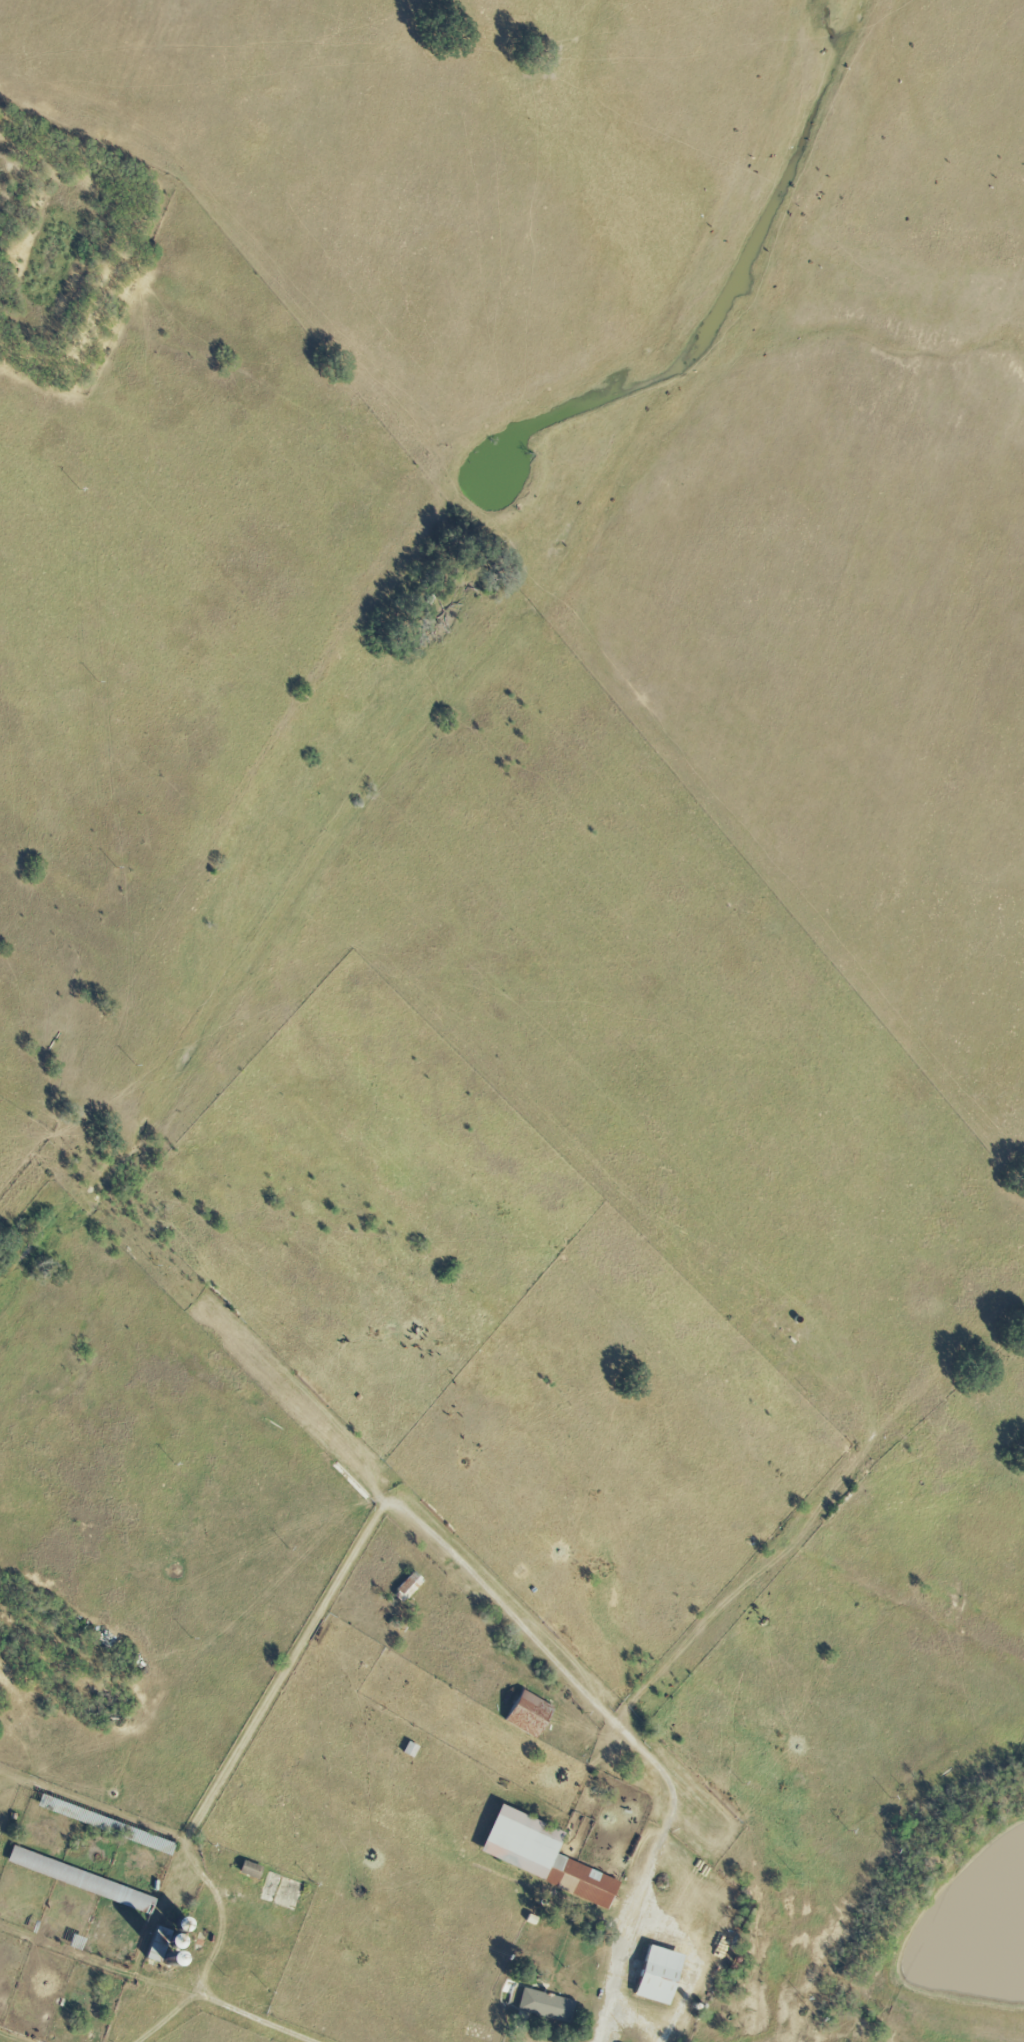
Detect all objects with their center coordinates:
building: (408, 1584)
building: (526, 1712)
building: (541, 1855)
road: (638, 1930)
road: (693, 1969)
building: (656, 1974)
building: (543, 2003)
road: (259, 2019)
road: (642, 2019)

